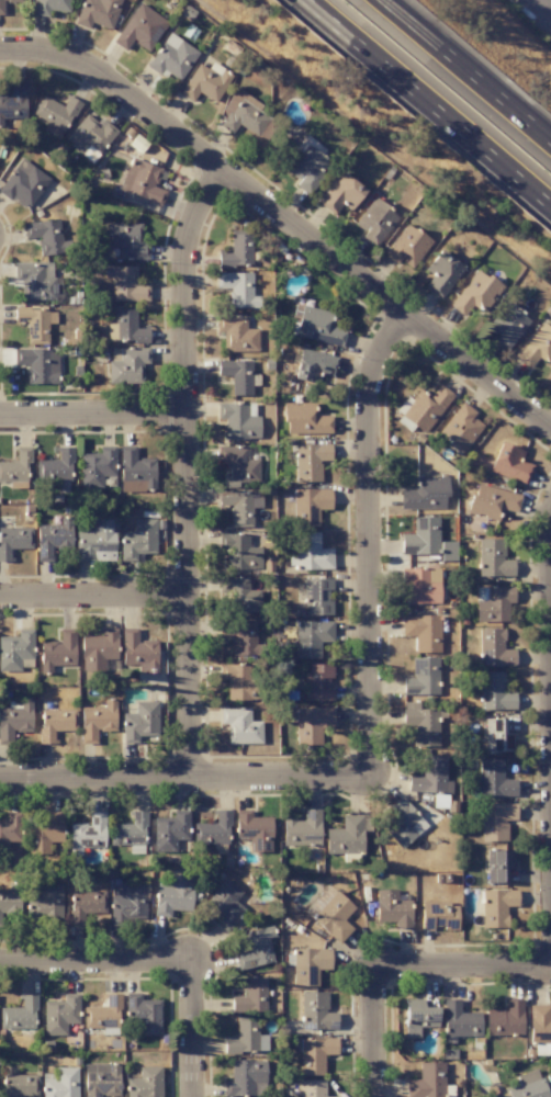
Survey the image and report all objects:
building: (50, 7)
building: (1, 8)
building: (98, 13)
building: (140, 29)
road: (32, 52)
building: (172, 57)
road: (466, 70)
building: (205, 82)
building: (13, 103)
road: (427, 103)
building: (55, 114)
building: (243, 114)
building: (90, 136)
building: (308, 163)
building: (143, 181)
building: (22, 184)
building: (340, 193)
building: (375, 222)
building: (46, 237)
building: (126, 240)
road: (304, 242)
building: (407, 246)
building: (236, 250)
building: (441, 273)
building: (36, 281)
building: (125, 284)
building: (237, 289)
building: (475, 292)
building: (35, 324)
building: (507, 325)
building: (317, 327)
building: (125, 328)
building: (236, 333)
building: (537, 347)
building: (126, 364)
building: (38, 365)
building: (314, 365)
building: (238, 376)
building: (421, 409)
road: (94, 412)
building: (304, 419)
building: (238, 420)
building: (460, 428)
building: (310, 461)
building: (237, 464)
building: (509, 464)
building: (15, 466)
building: (55, 466)
building: (98, 468)
building: (135, 472)
road: (189, 473)
building: (425, 495)
building: (492, 501)
building: (240, 506)
building: (310, 506)
building: (421, 536)
building: (53, 539)
building: (138, 540)
building: (13, 541)
building: (97, 541)
road: (368, 543)
building: (448, 551)
building: (239, 552)
building: (311, 553)
building: (493, 558)
building: (419, 586)
building: (241, 596)
building: (317, 597)
road: (95, 603)
building: (493, 603)
building: (423, 632)
building: (239, 636)
building: (311, 637)
building: (494, 648)
building: (98, 649)
building: (15, 651)
building: (136, 651)
building: (57, 652)
building: (421, 677)
building: (317, 681)
building: (239, 682)
building: (495, 692)
building: (14, 720)
building: (97, 721)
building: (140, 722)
building: (55, 723)
building: (312, 724)
building: (420, 724)
building: (239, 726)
building: (496, 736)
building: (430, 776)
road: (185, 778)
building: (494, 780)
building: (495, 821)
building: (403, 824)
building: (303, 829)
building: (170, 830)
building: (254, 830)
building: (44, 832)
building: (213, 833)
building: (87, 834)
building: (130, 834)
building: (347, 835)
building: (498, 866)
building: (172, 895)
building: (10, 900)
building: (126, 903)
building: (45, 904)
building: (225, 904)
building: (85, 905)
building: (496, 906)
building: (392, 908)
building: (333, 915)
building: (438, 915)
building: (255, 948)
road: (94, 963)
building: (308, 965)
road: (464, 971)
building: (250, 996)
building: (316, 1011)
building: (143, 1014)
building: (19, 1015)
building: (59, 1015)
building: (102, 1016)
building: (417, 1017)
building: (505, 1019)
building: (459, 1020)
road: (191, 1029)
building: (539, 1029)
road: (378, 1034)
building: (246, 1038)
building: (315, 1054)
building: (246, 1078)
building: (100, 1079)
building: (427, 1081)
building: (145, 1083)
building: (60, 1084)
building: (19, 1085)
building: (528, 1085)
building: (312, 1088)

